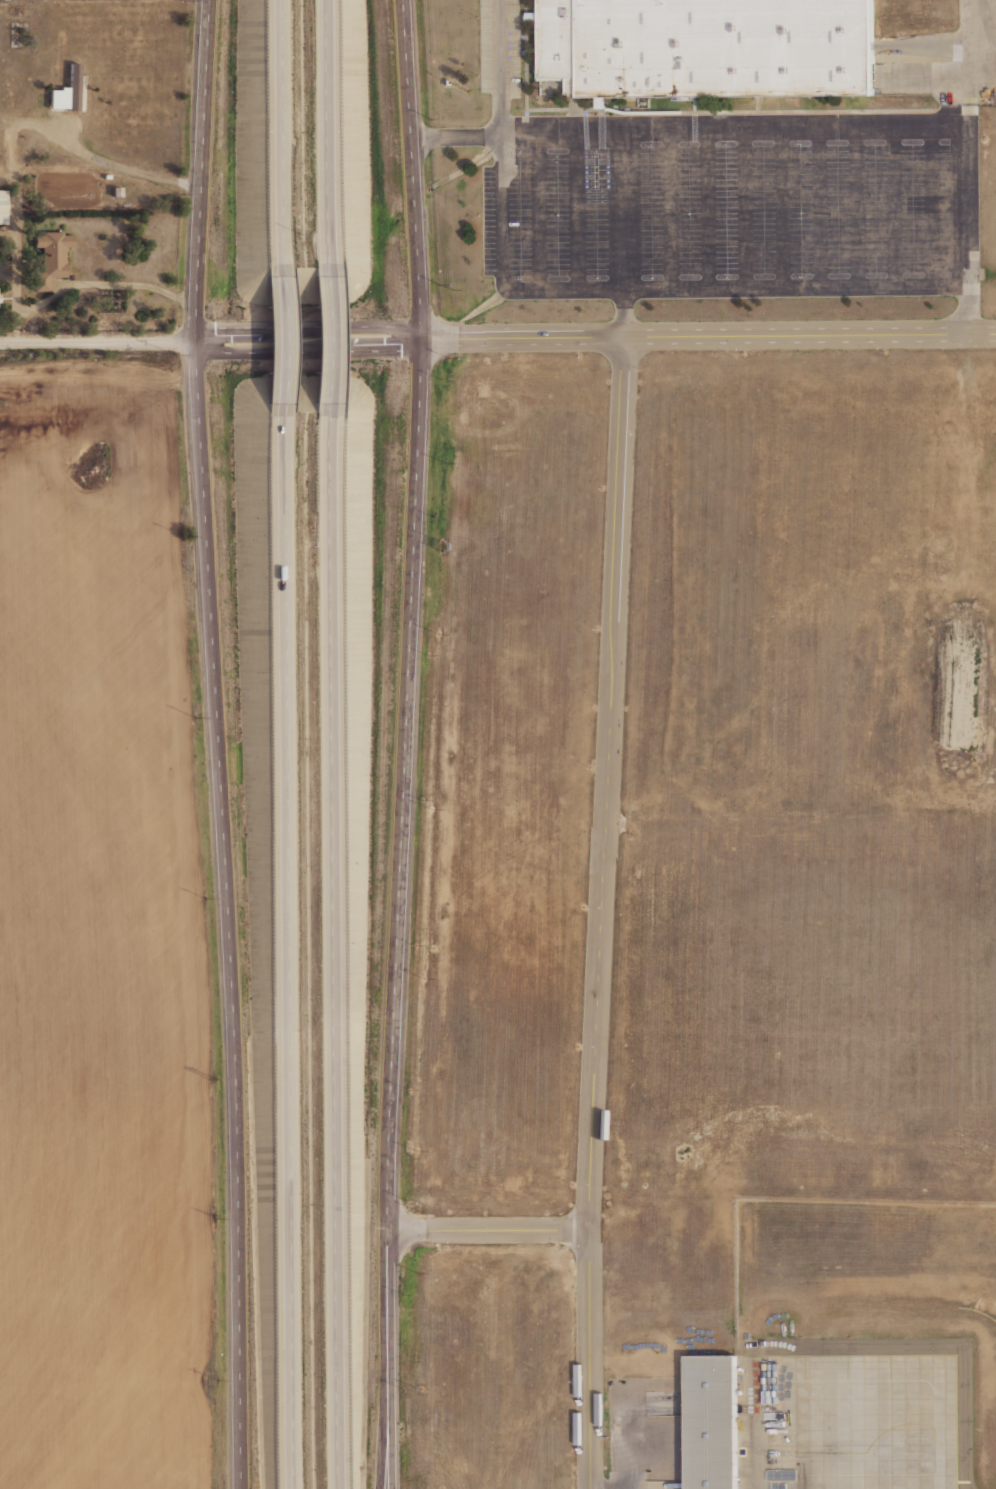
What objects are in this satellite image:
building: (531, 17)
building: (708, 47)
road: (972, 52)
building: (71, 86)
building: (56, 98)
road: (327, 133)
road: (688, 134)
road: (282, 137)
road: (107, 163)
road: (202, 170)
building: (105, 176)
building: (113, 191)
building: (2, 200)
parking lot: (729, 200)
road: (625, 210)
road: (16, 217)
building: (2, 218)
road: (966, 218)
building: (48, 257)
road: (103, 283)
road: (592, 285)
road: (624, 310)
road: (17, 330)
road: (708, 334)
road: (308, 339)
road: (97, 342)
road: (328, 342)
road: (283, 343)
road: (890, 540)
road: (896, 561)
road: (832, 729)
road: (405, 744)
road: (821, 818)
road: (615, 823)
road: (811, 825)
road: (600, 911)
road: (228, 914)
road: (289, 950)
road: (332, 953)
road: (681, 997)
road: (603, 1123)
road: (488, 1231)
airport: (802, 1344)
road: (385, 1400)
airport apron: (845, 1414)
building: (712, 1422)
airport taxiway: (890, 1425)
road: (633, 1439)

